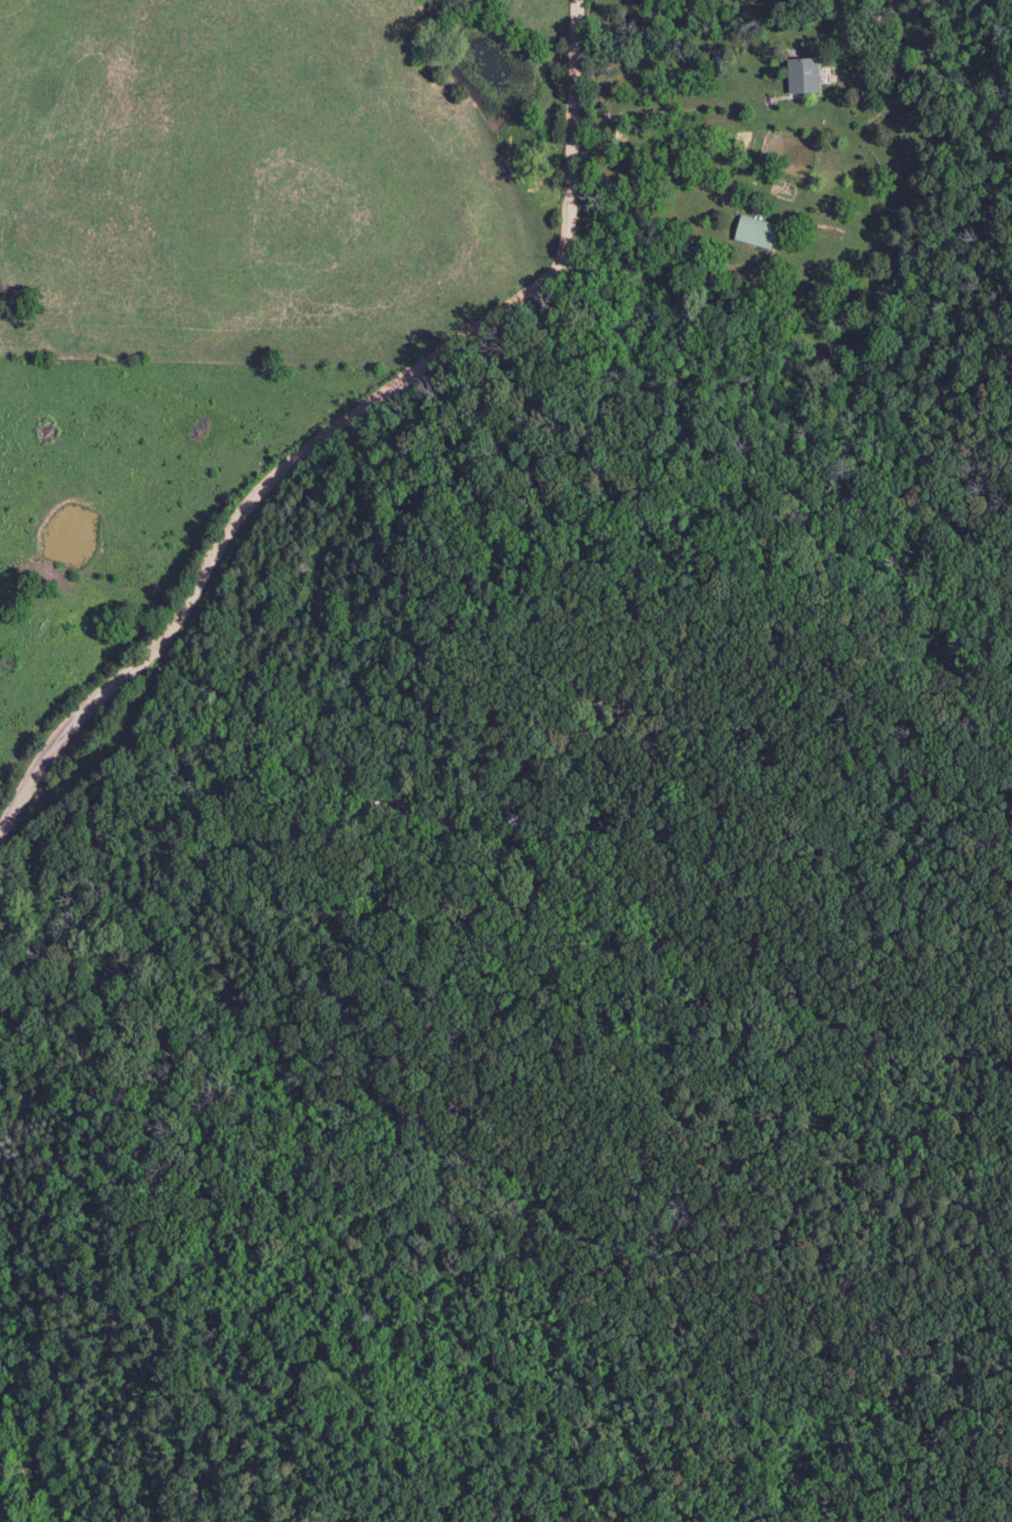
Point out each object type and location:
building: (803, 75)
road: (779, 392)
road: (356, 437)
road: (327, 827)
road: (1, 1519)

